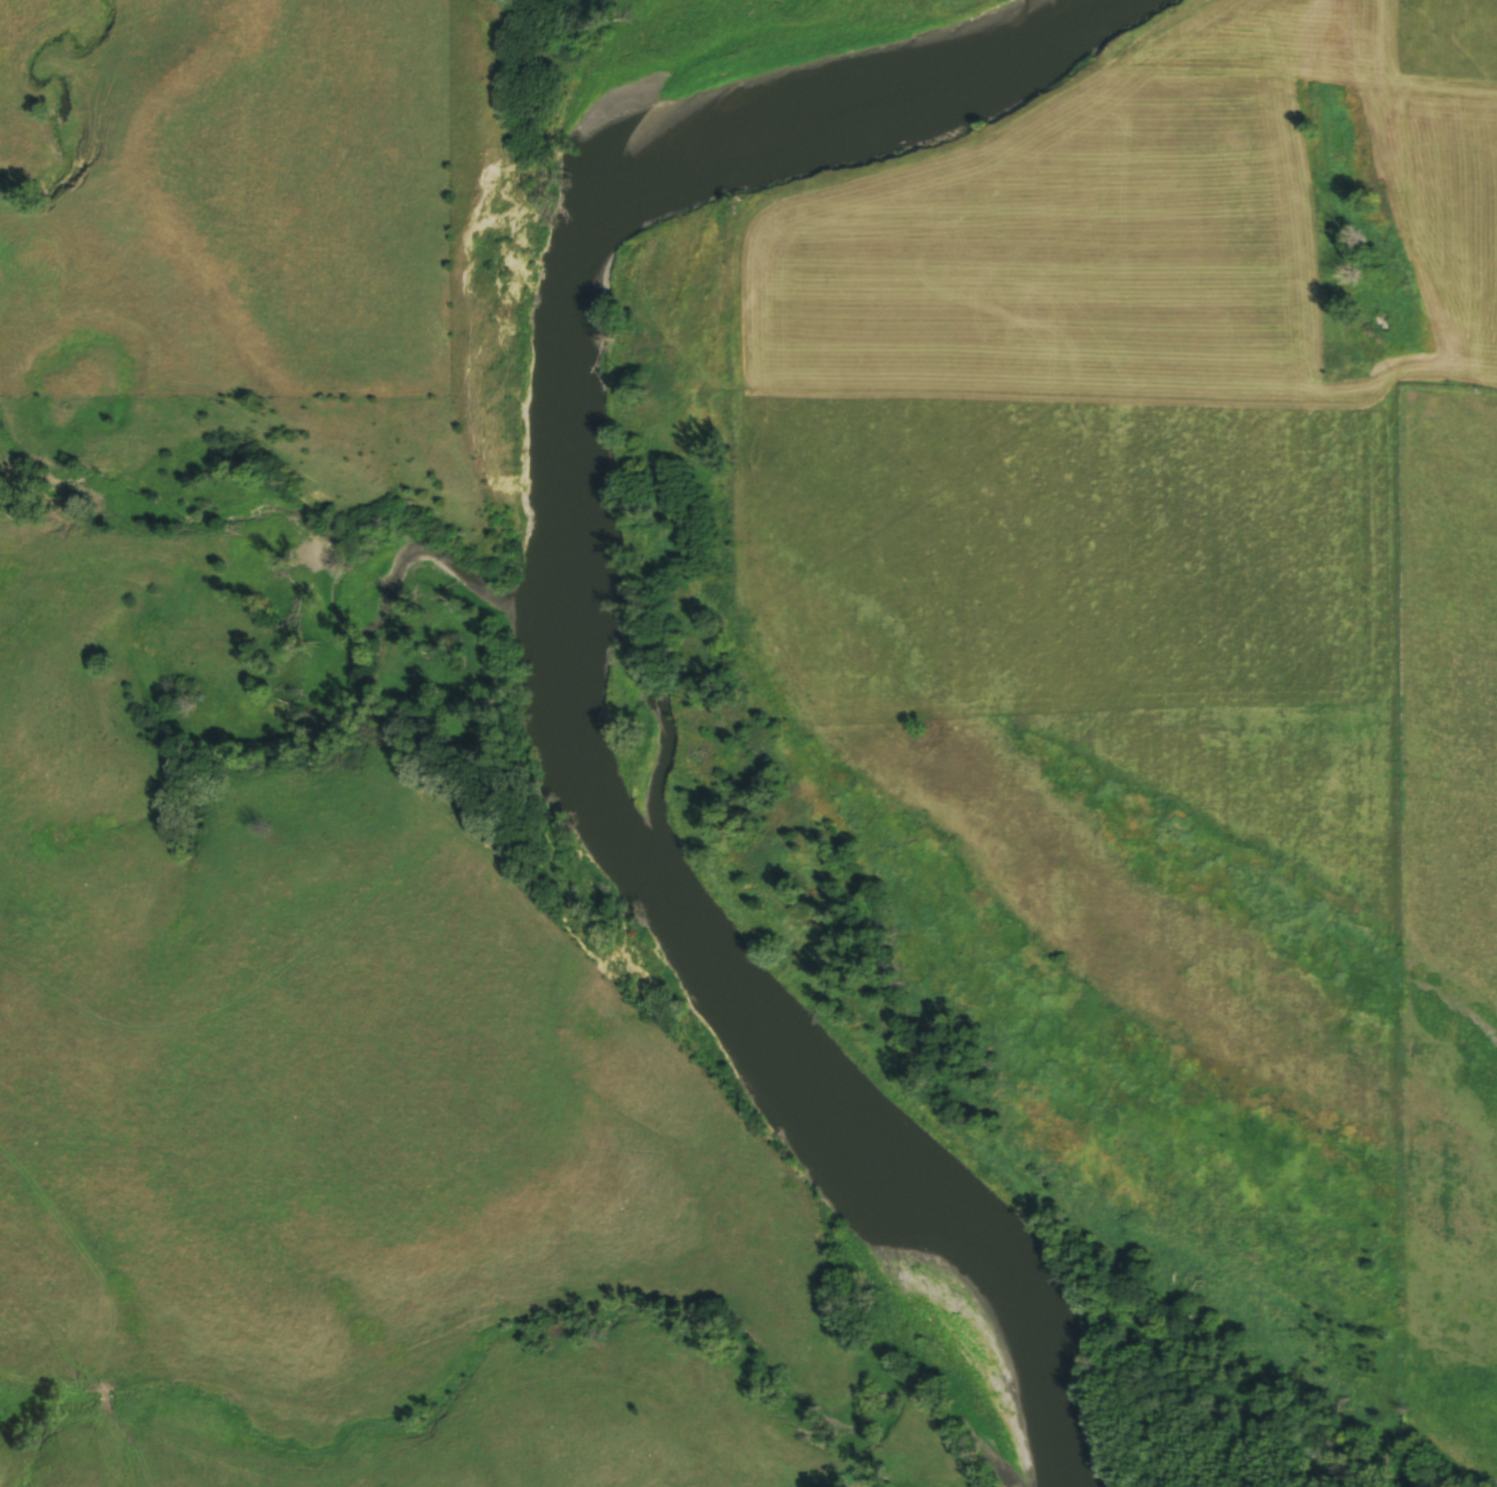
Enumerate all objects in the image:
river: (572, 656)

